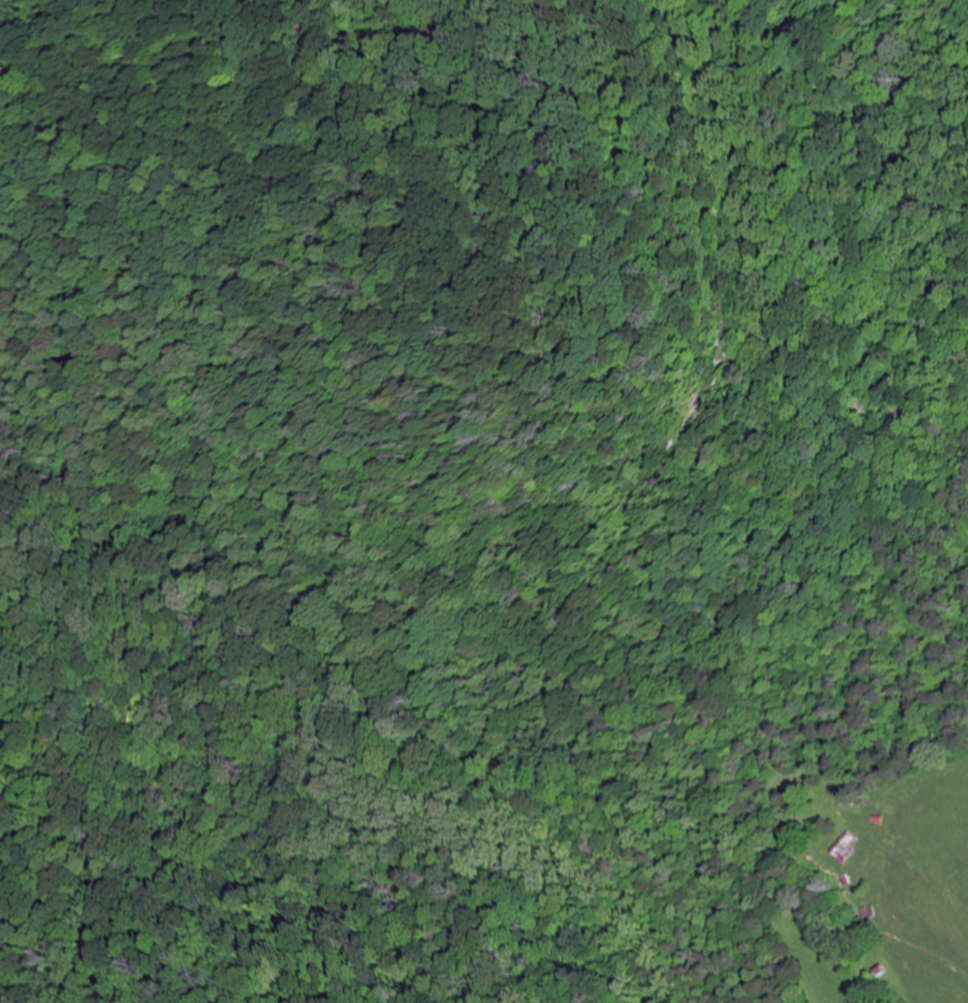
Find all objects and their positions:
building: (848, 846)

